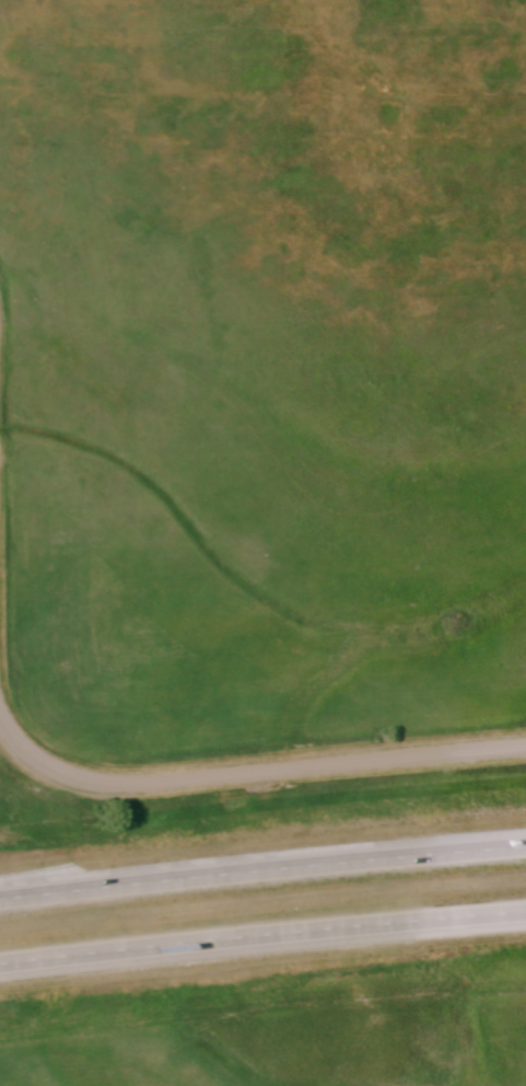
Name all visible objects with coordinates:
road: (248, 773)
road: (262, 869)
road: (262, 935)
building: (90, 960)

